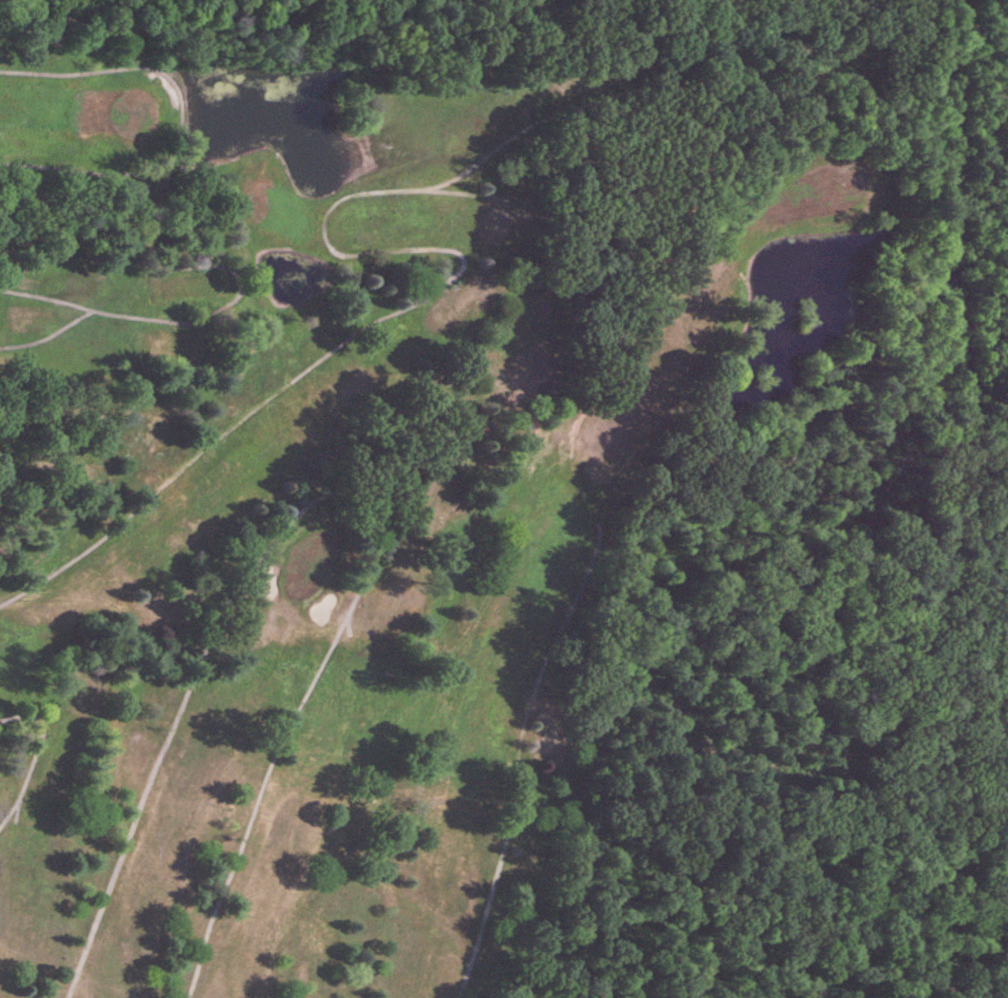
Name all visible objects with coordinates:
road: (709, 115)
park: (479, 524)

